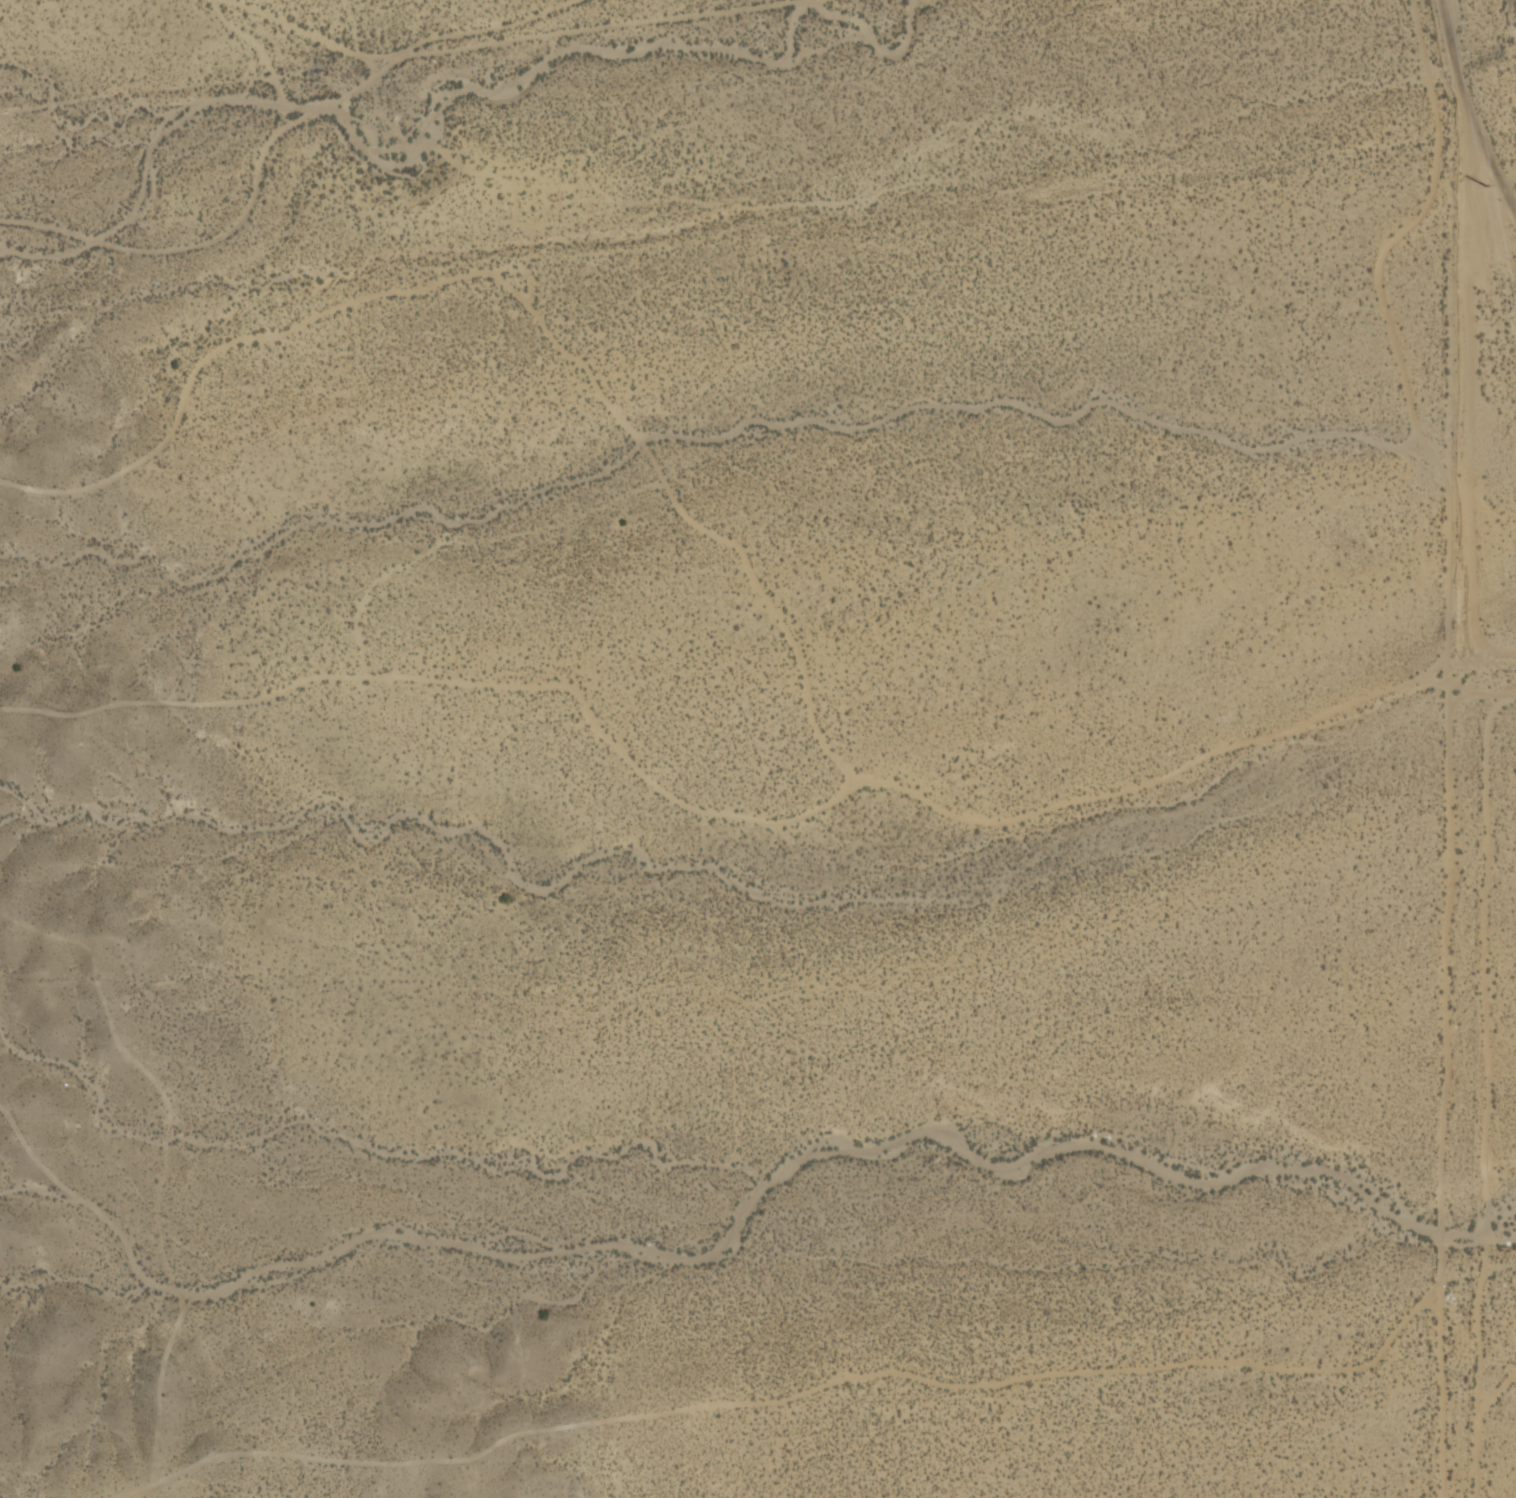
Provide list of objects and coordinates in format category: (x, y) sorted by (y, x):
power tower: (1486, 186)

